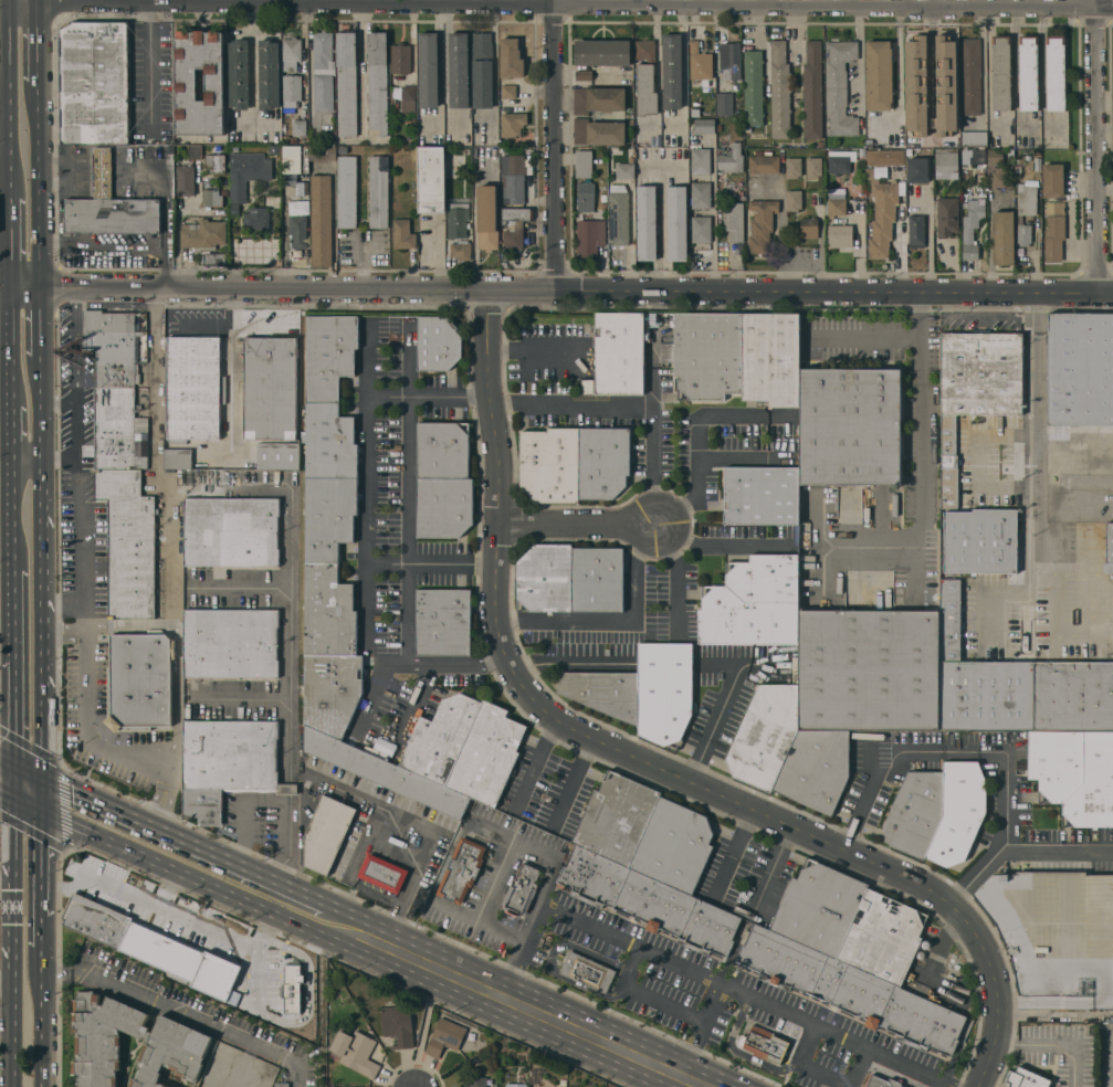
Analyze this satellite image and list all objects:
road: (8, 1)
road: (34, 1)
road: (73, 1)
road: (104, 1)
road: (143, 1)
road: (193, 1)
road: (311, 1)
road: (716, 2)
road: (766, 2)
road: (822, 2)
road: (560, 3)
road: (933, 3)
road: (980, 3)
road: (35, 43)
building: (645, 50)
building: (602, 52)
building: (291, 53)
road: (860, 55)
building: (401, 59)
building: (511, 59)
building: (731, 60)
road: (900, 61)
road: (253, 62)
road: (1042, 62)
road: (361, 64)
building: (699, 64)
road: (149, 65)
road: (444, 68)
building: (428, 70)
building: (459, 70)
building: (482, 70)
building: (323, 71)
building: (672, 71)
building: (1028, 72)
building: (1001, 73)
building: (1056, 73)
building: (238, 74)
building: (269, 74)
building: (582, 74)
building: (879, 75)
building: (970, 76)
road: (3, 81)
building: (94, 83)
building: (347, 83)
building: (186, 84)
building: (378, 84)
building: (946, 85)
building: (753, 87)
building: (839, 87)
building: (291, 89)
building: (645, 89)
building: (508, 91)
building: (779, 91)
building: (812, 91)
building: (408, 98)
building: (598, 99)
road: (8, 102)
building: (724, 103)
building: (412, 120)
building: (513, 124)
road: (4, 125)
building: (704, 126)
building: (298, 127)
road: (1106, 130)
building: (599, 131)
building: (408, 136)
building: (974, 137)
building: (870, 143)
building: (820, 144)
road: (554, 146)
road: (1101, 147)
building: (273, 149)
building: (916, 150)
building: (195, 151)
building: (465, 151)
building: (323, 152)
building: (910, 152)
building: (729, 157)
building: (886, 157)
building: (978, 157)
building: (995, 157)
road: (4, 159)
building: (292, 159)
building: (700, 161)
building: (839, 161)
road: (36, 162)
building: (216, 162)
building: (763, 162)
building: (584, 163)
building: (945, 163)
road: (165, 167)
building: (813, 167)
building: (792, 168)
building: (624, 169)
building: (917, 169)
building: (246, 172)
building: (980, 175)
building: (1001, 177)
building: (513, 179)
building: (185, 180)
building: (432, 180)
building: (1052, 180)
building: (936, 182)
building: (300, 188)
building: (224, 191)
building: (347, 191)
building: (378, 191)
building: (701, 194)
building: (211, 197)
building: (586, 197)
building: (792, 200)
building: (1027, 200)
building: (834, 204)
building: (109, 205)
building: (603, 205)
building: (234, 209)
building: (619, 215)
building: (947, 215)
building: (487, 218)
building: (882, 218)
building: (256, 219)
building: (321, 220)
building: (734, 221)
building: (458, 222)
building: (645, 222)
building: (678, 223)
building: (762, 224)
building: (514, 228)
building: (809, 228)
building: (701, 229)
building: (972, 229)
road: (660, 230)
building: (297, 231)
building: (916, 231)
building: (1054, 231)
building: (202, 234)
building: (402, 234)
building: (1023, 234)
building: (590, 236)
building: (840, 236)
building: (1002, 238)
road: (102, 240)
road: (9, 243)
building: (460, 251)
building: (213, 258)
road: (360, 261)
road: (802, 261)
road: (36, 264)
road: (4, 286)
road: (23, 286)
road: (56, 287)
road: (594, 294)
road: (230, 314)
road: (38, 319)
road: (230, 328)
road: (864, 337)
building: (438, 342)
road: (75, 345)
building: (112, 346)
road: (532, 351)
building: (619, 352)
building: (329, 353)
building: (706, 353)
building: (770, 358)
road: (367, 366)
building: (1080, 370)
building: (193, 388)
building: (270, 388)
building: (975, 390)
road: (56, 403)
road: (575, 404)
road: (38, 405)
road: (230, 410)
road: (23, 422)
building: (850, 425)
road: (1033, 426)
road: (10, 428)
building: (117, 430)
road: (701, 436)
building: (329, 441)
building: (397, 447)
road: (659, 450)
building: (442, 451)
building: (279, 456)
building: (178, 457)
road: (921, 457)
road: (57, 460)
building: (603, 462)
building: (550, 464)
road: (968, 467)
road: (367, 473)
road: (408, 487)
building: (762, 495)
building: (443, 507)
building: (397, 508)
building: (329, 516)
road: (76, 518)
road: (579, 525)
building: (231, 531)
building: (980, 540)
building: (128, 542)
road: (723, 546)
building: (1109, 549)
road: (433, 563)
road: (679, 576)
road: (170, 578)
building: (546, 578)
building: (765, 578)
building: (598, 579)
road: (1004, 593)
road: (171, 606)
building: (329, 613)
road: (11, 615)
building: (377, 616)
building: (744, 619)
road: (630, 621)
building: (443, 622)
road: (125, 625)
road: (61, 635)
road: (40, 636)
building: (231, 643)
road: (569, 661)
road: (418, 664)
building: (869, 669)
building: (139, 679)
building: (979, 679)
road: (291, 686)
building: (665, 690)
building: (606, 692)
building: (332, 693)
road: (176, 694)
building: (1074, 695)
road: (241, 698)
road: (416, 703)
road: (723, 703)
parking lot: (83, 715)
road: (12, 730)
road: (83, 732)
building: (766, 735)
building: (441, 738)
building: (487, 756)
road: (536, 760)
road: (6, 761)
building: (228, 763)
road: (643, 763)
building: (1057, 763)
traffic signals: (12, 764)
road: (170, 767)
building: (816, 769)
building: (385, 772)
traffic signals: (40, 778)
road: (570, 780)
building: (1094, 784)
road: (290, 789)
road: (6, 796)
road: (290, 798)
traffic signals: (12, 800)
road: (867, 800)
road: (279, 801)
road: (25, 806)
building: (916, 812)
building: (959, 812)
traffic signals: (40, 813)
building: (617, 819)
road: (167, 833)
building: (326, 833)
road: (1010, 842)
road: (108, 843)
building: (674, 846)
road: (1057, 853)
road: (732, 855)
road: (420, 859)
road: (40, 863)
building: (461, 870)
road: (770, 872)
building: (382, 873)
road: (12, 876)
road: (57, 886)
building: (521, 890)
road: (6, 891)
road: (168, 893)
road: (276, 898)
road: (241, 900)
building: (648, 901)
building: (820, 908)
road: (477, 921)
road: (185, 922)
road: (41, 930)
building: (1056, 936)
building: (883, 938)
building: (925, 944)
building: (189, 954)
building: (920, 954)
road: (934, 963)
building: (587, 972)
road: (701, 973)
road: (6, 984)
building: (850, 991)
road: (507, 999)
road: (181, 1011)
road: (41, 1016)
road: (12, 1020)
building: (398, 1025)
road: (696, 1027)
building: (444, 1037)
building: (179, 1041)
building: (765, 1044)
road: (1054, 1047)
building: (355, 1052)
road: (857, 1067)
building: (255, 1070)
building: (534, 1076)
building: (1026, 1078)
building: (881, 1080)
building: (211, 1081)
building: (475, 1081)
building: (563, 1083)
building: (517, 1085)

